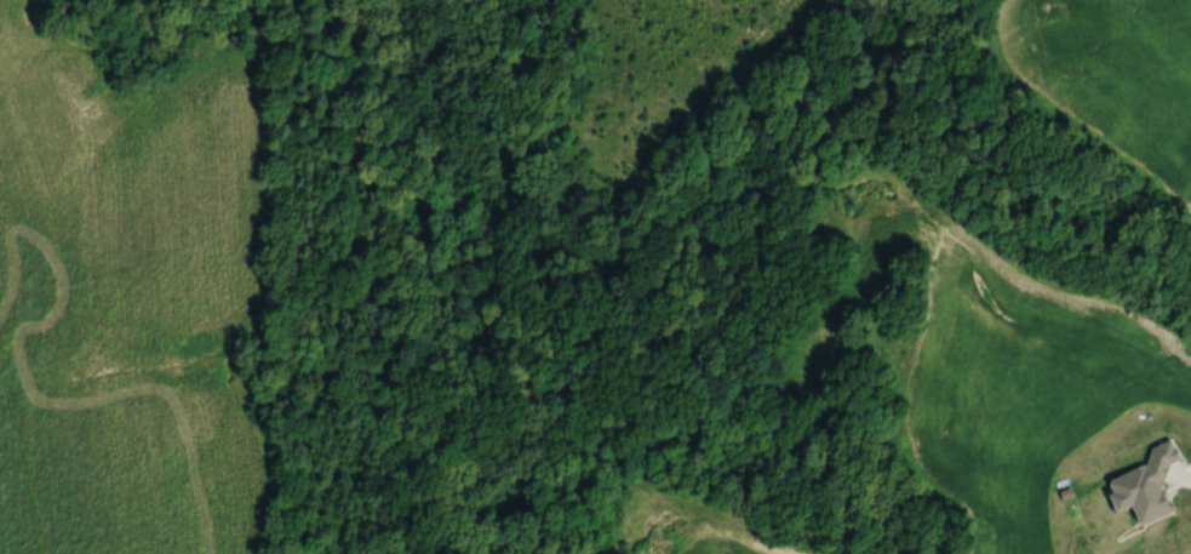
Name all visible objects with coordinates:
road: (1190, 476)

